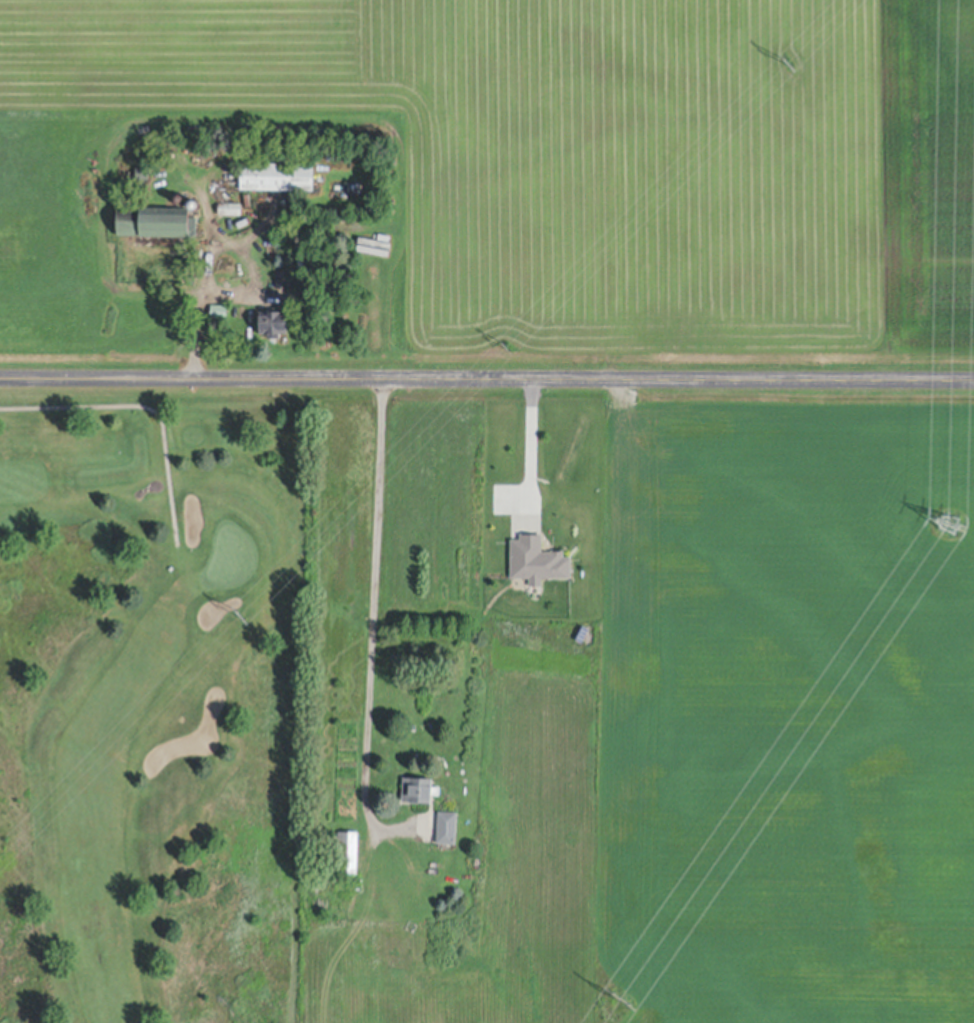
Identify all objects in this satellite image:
power tower: (788, 62)
building: (141, 173)
building: (276, 176)
building: (118, 184)
building: (247, 199)
building: (180, 200)
building: (193, 204)
building: (229, 208)
building: (276, 209)
building: (155, 221)
building: (282, 279)
road: (202, 284)
building: (218, 312)
building: (273, 323)
power tower: (507, 349)
road: (486, 375)
road: (528, 449)
power tower: (951, 527)
building: (536, 560)
power tower: (242, 617)
road: (372, 620)
park: (150, 705)
building: (418, 790)
building: (446, 828)
building: (347, 853)
power tower: (622, 999)

